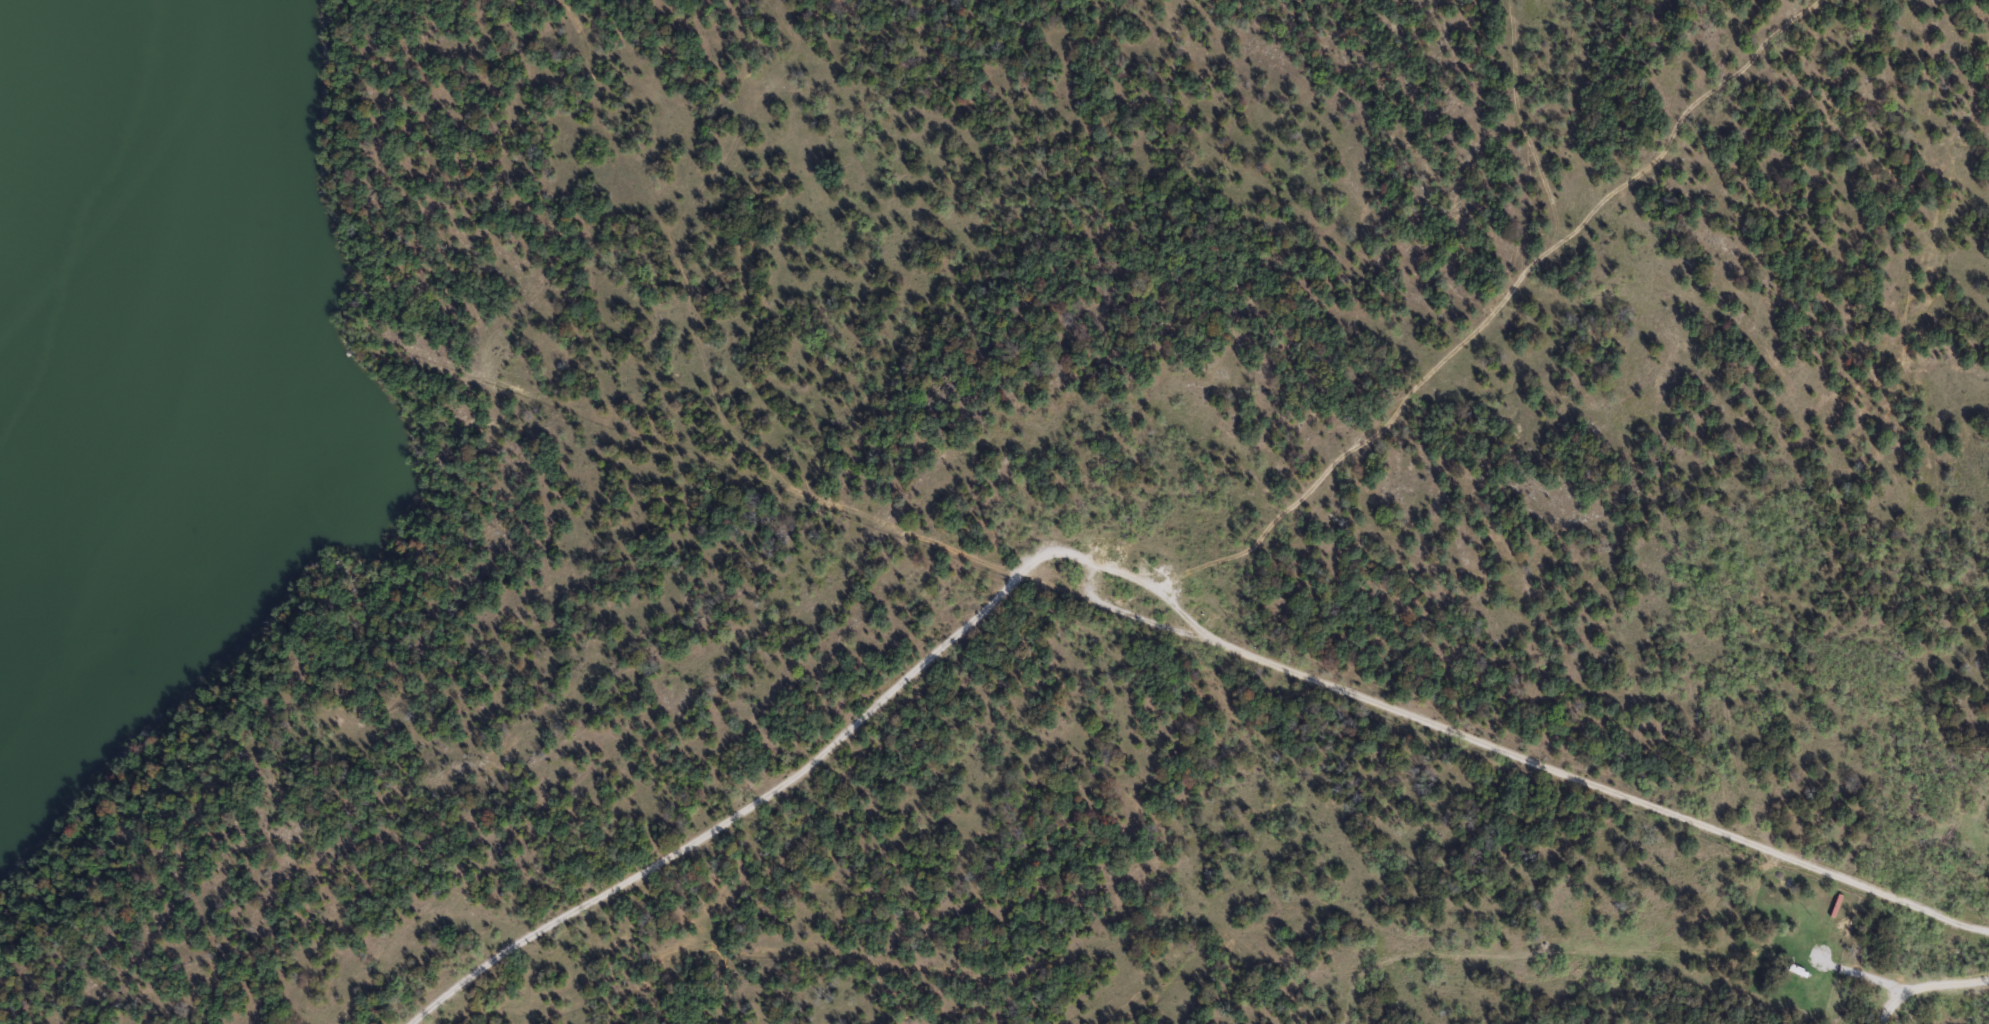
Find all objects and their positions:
road: (705, 364)
road: (1732, 743)
road: (819, 753)
road: (1524, 755)
road: (1623, 872)
road: (1926, 985)

